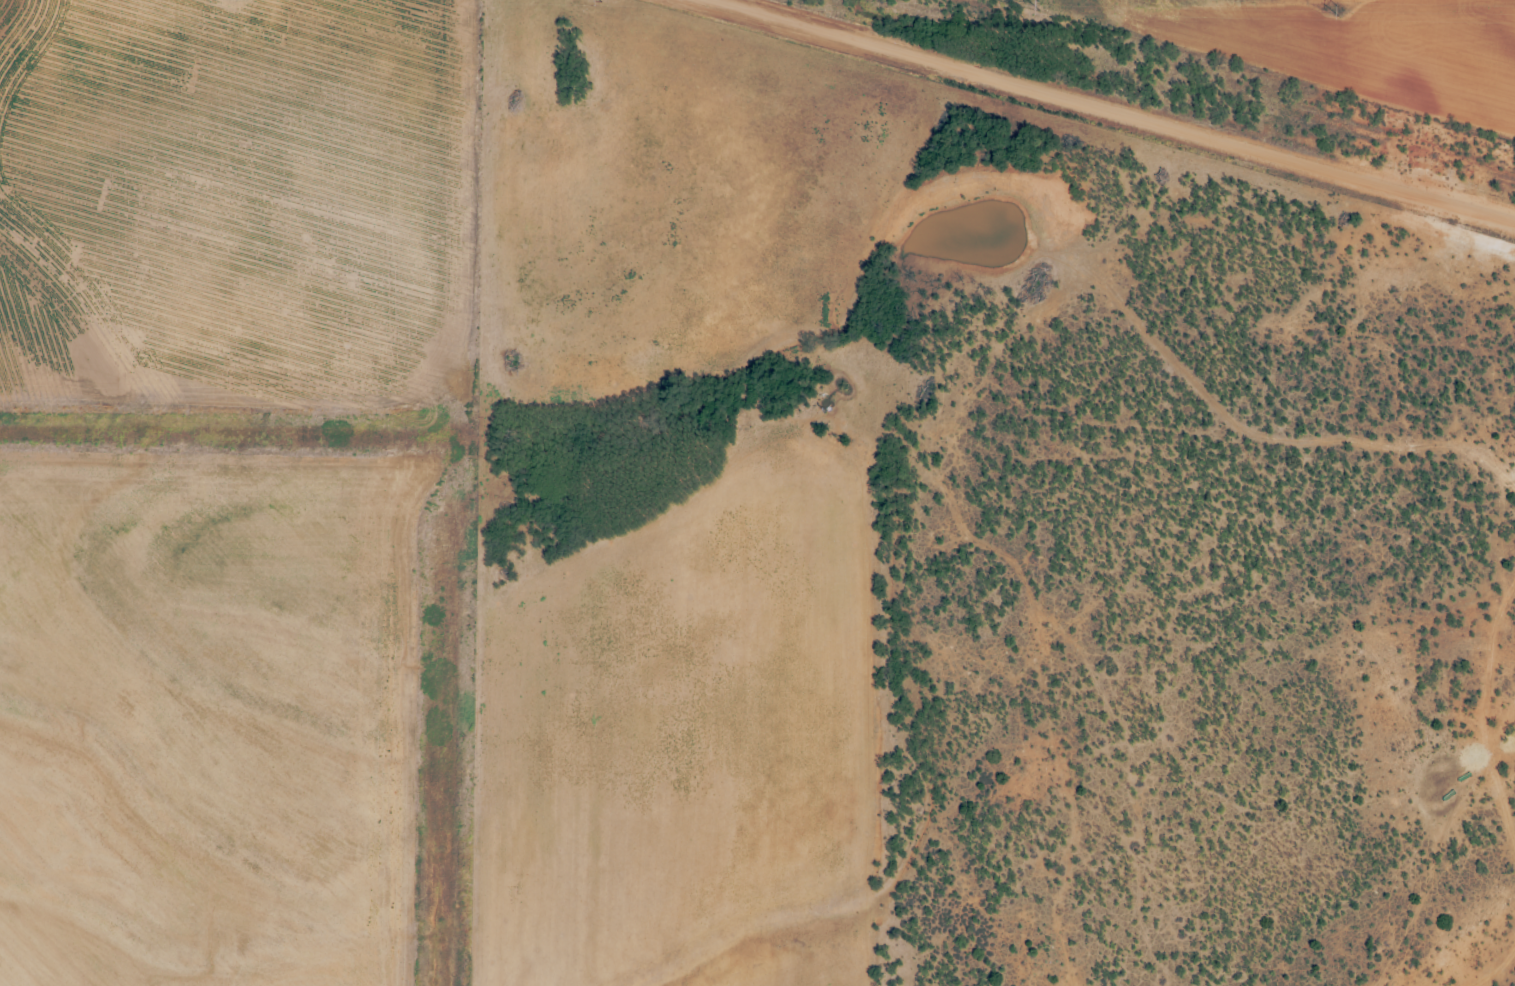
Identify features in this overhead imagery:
power tower: (1037, 4)
power tower: (1337, 9)
road: (1121, 109)
road: (987, 473)

